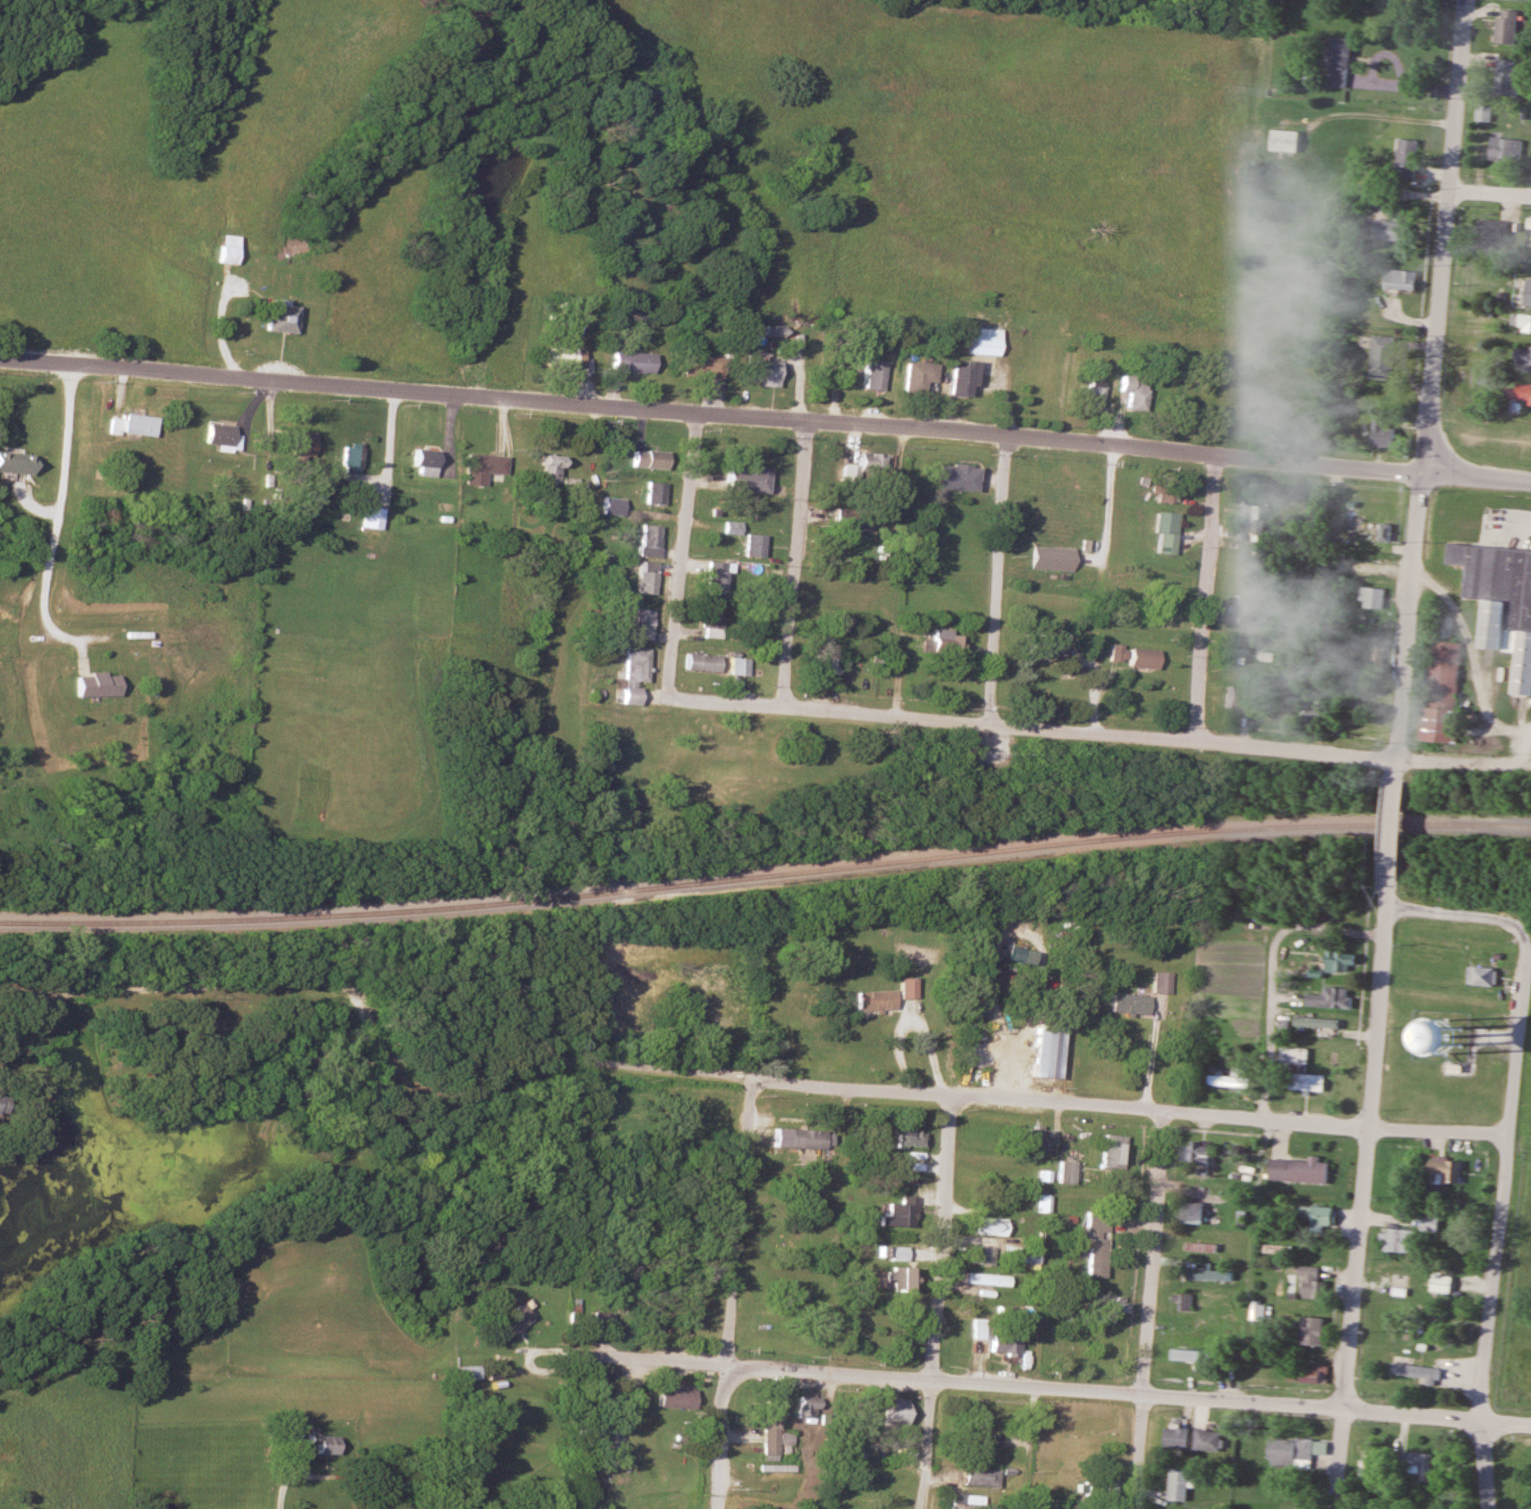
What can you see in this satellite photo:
building: (1519, 0)
building: (1505, 27)
building: (1339, 62)
building: (1506, 78)
building: (1284, 141)
building: (1505, 149)
building: (1406, 159)
road: (1490, 193)
building: (1391, 230)
building: (1491, 233)
building: (224, 255)
building: (1401, 280)
building: (1527, 293)
building: (276, 319)
building: (1521, 323)
building: (979, 347)
building: (1522, 355)
building: (560, 357)
building: (1382, 357)
building: (628, 363)
building: (698, 368)
building: (758, 373)
building: (871, 375)
building: (915, 376)
building: (956, 381)
road: (1430, 389)
building: (1131, 392)
building: (1523, 392)
building: (1090, 393)
road: (765, 419)
building: (127, 425)
building: (1380, 432)
building: (219, 436)
building: (297, 443)
building: (347, 457)
building: (646, 459)
building: (419, 461)
building: (872, 461)
building: (13, 462)
building: (476, 466)
building: (542, 468)
building: (952, 476)
building: (742, 479)
road: (61, 490)
building: (651, 492)
building: (1161, 493)
building: (609, 505)
building: (1249, 512)
building: (367, 517)
building: (855, 519)
building: (1160, 531)
building: (1384, 531)
building: (321, 538)
building: (647, 540)
building: (751, 545)
road: (680, 557)
building: (1049, 558)
road: (792, 564)
building: (713, 576)
building: (643, 577)
road: (994, 581)
building: (1371, 596)
road: (1203, 598)
building: (1501, 600)
building: (1238, 611)
building: (1164, 613)
building: (710, 622)
building: (638, 623)
building: (943, 643)
building: (1035, 645)
building: (1234, 646)
building: (1109, 652)
building: (1377, 654)
building: (1137, 657)
building: (699, 663)
building: (874, 663)
building: (823, 665)
building: (737, 672)
building: (631, 673)
building: (93, 683)
building: (1441, 690)
building: (1236, 698)
building: (1311, 709)
road: (1088, 733)
road: (1522, 763)
road: (1390, 829)
railway: (765, 873)
building: (1009, 955)
building: (1338, 961)
building: (1481, 975)
building: (1160, 981)
building: (904, 987)
building: (1330, 998)
building: (871, 1000)
building: (1129, 1001)
building: (966, 1009)
building: (1315, 1022)
building: (1042, 1050)
building: (1299, 1069)
road: (730, 1077)
building: (1227, 1080)
building: (905, 1136)
building: (794, 1138)
building: (1033, 1141)
road: (1506, 1150)
building: (1109, 1151)
building: (1194, 1151)
building: (1298, 1168)
building: (1444, 1171)
building: (1062, 1172)
road: (1362, 1194)
building: (1038, 1203)
building: (1190, 1211)
building: (896, 1212)
building: (1319, 1214)
building: (1429, 1223)
building: (984, 1226)
building: (1398, 1239)
building: (1092, 1244)
building: (1208, 1246)
building: (1276, 1247)
building: (894, 1253)
building: (979, 1254)
building: (1018, 1254)
building: (1199, 1276)
building: (894, 1279)
building: (982, 1279)
building: (1310, 1280)
building: (1441, 1283)
road: (728, 1293)
building: (1182, 1301)
road: (936, 1302)
building: (1119, 1307)
building: (1258, 1309)
road: (1149, 1310)
building: (1099, 1319)
building: (601, 1322)
building: (1176, 1326)
building: (1311, 1330)
building: (995, 1338)
building: (1191, 1355)
road: (643, 1357)
building: (1417, 1372)
building: (465, 1373)
building: (1308, 1373)
road: (1127, 1392)
building: (673, 1398)
building: (803, 1406)
building: (892, 1414)
building: (975, 1428)
building: (770, 1429)
building: (291, 1431)
building: (1175, 1437)
building: (1207, 1440)
building: (317, 1444)
building: (1290, 1452)
building: (1415, 1462)
building: (979, 1477)
building: (1178, 1484)
building: (1103, 1488)
building: (964, 1501)
building: (1048, 1501)

